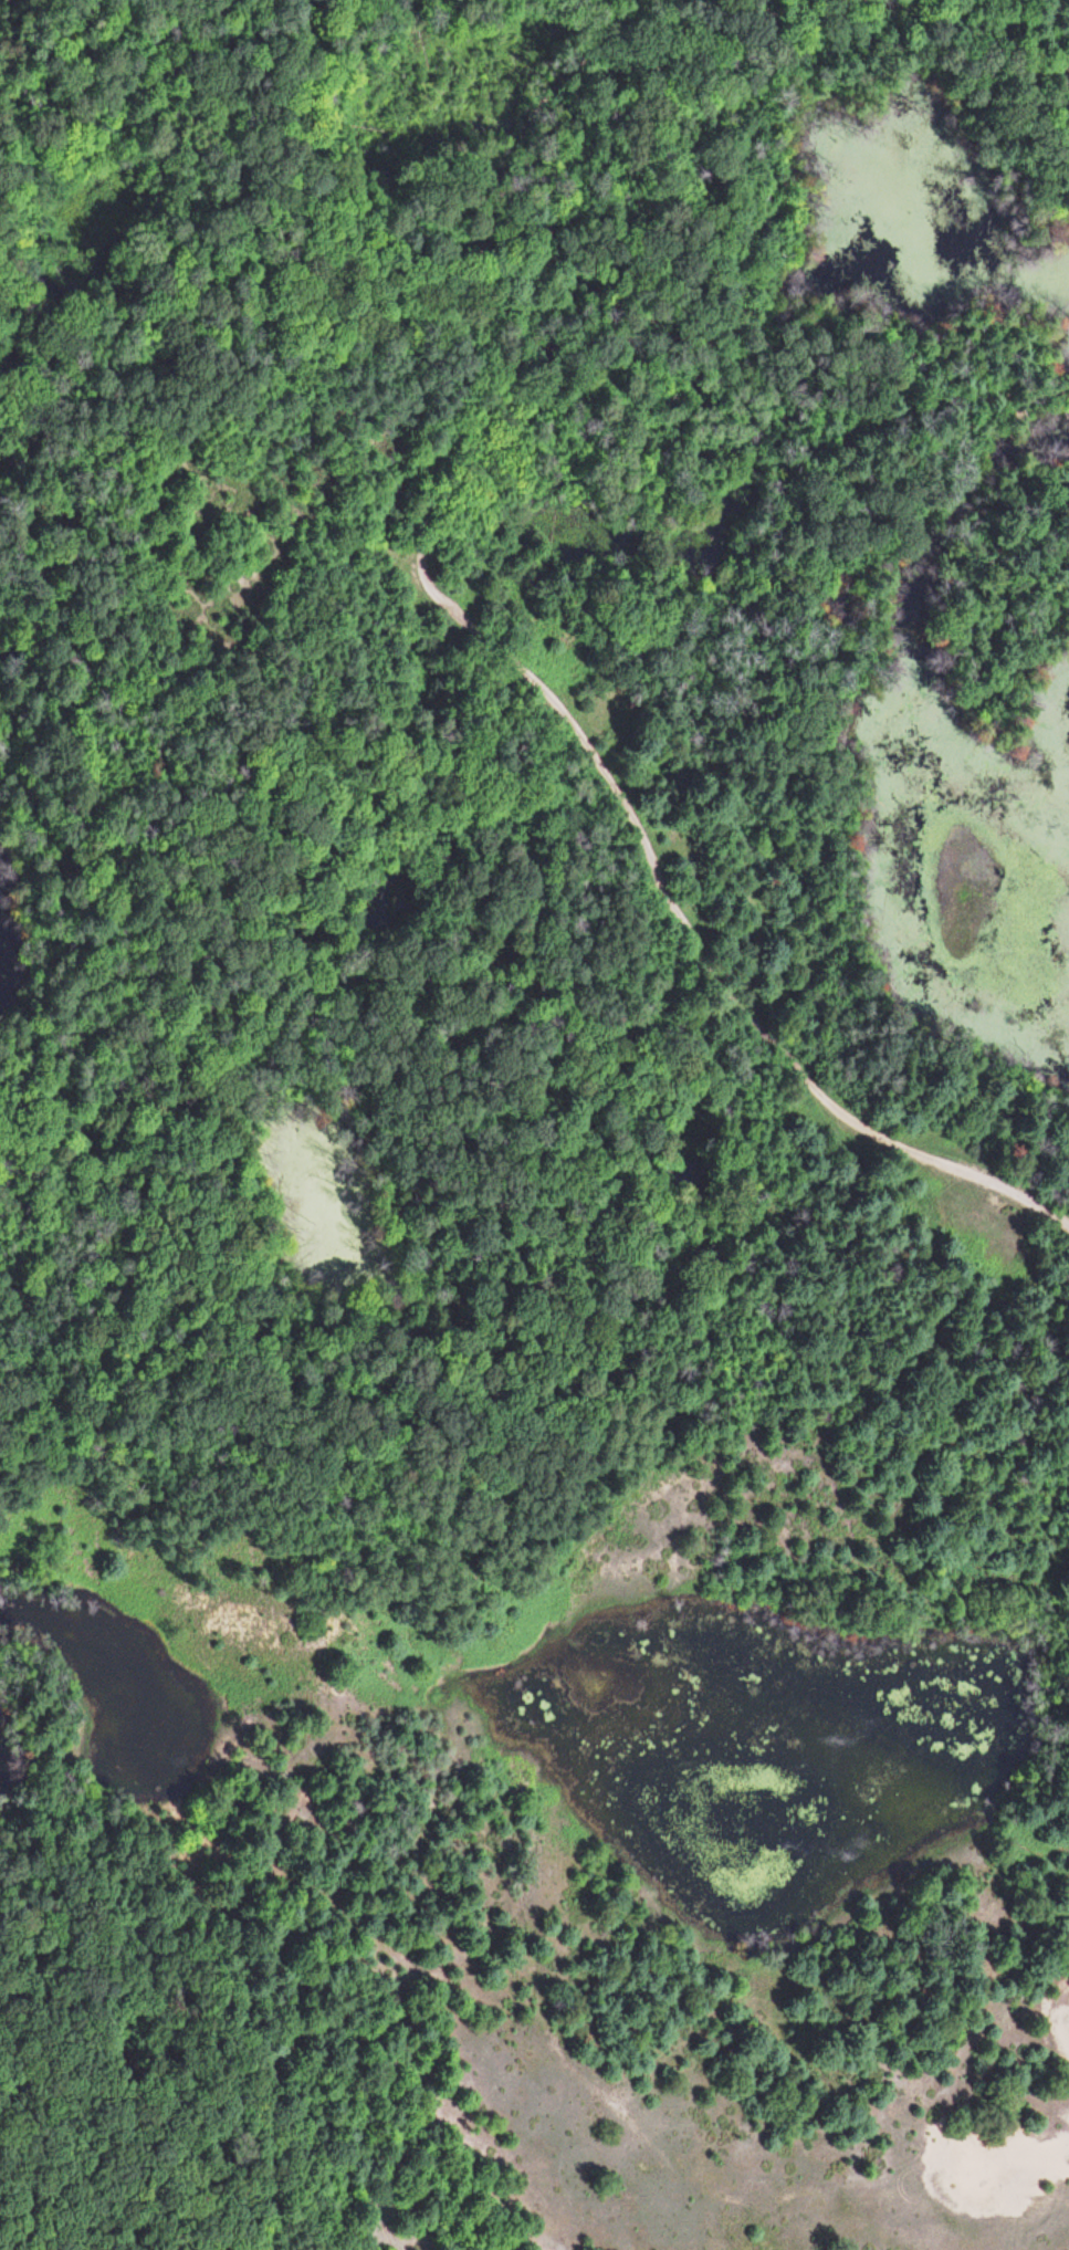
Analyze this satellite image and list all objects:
road: (960, 38)
road: (533, 688)

